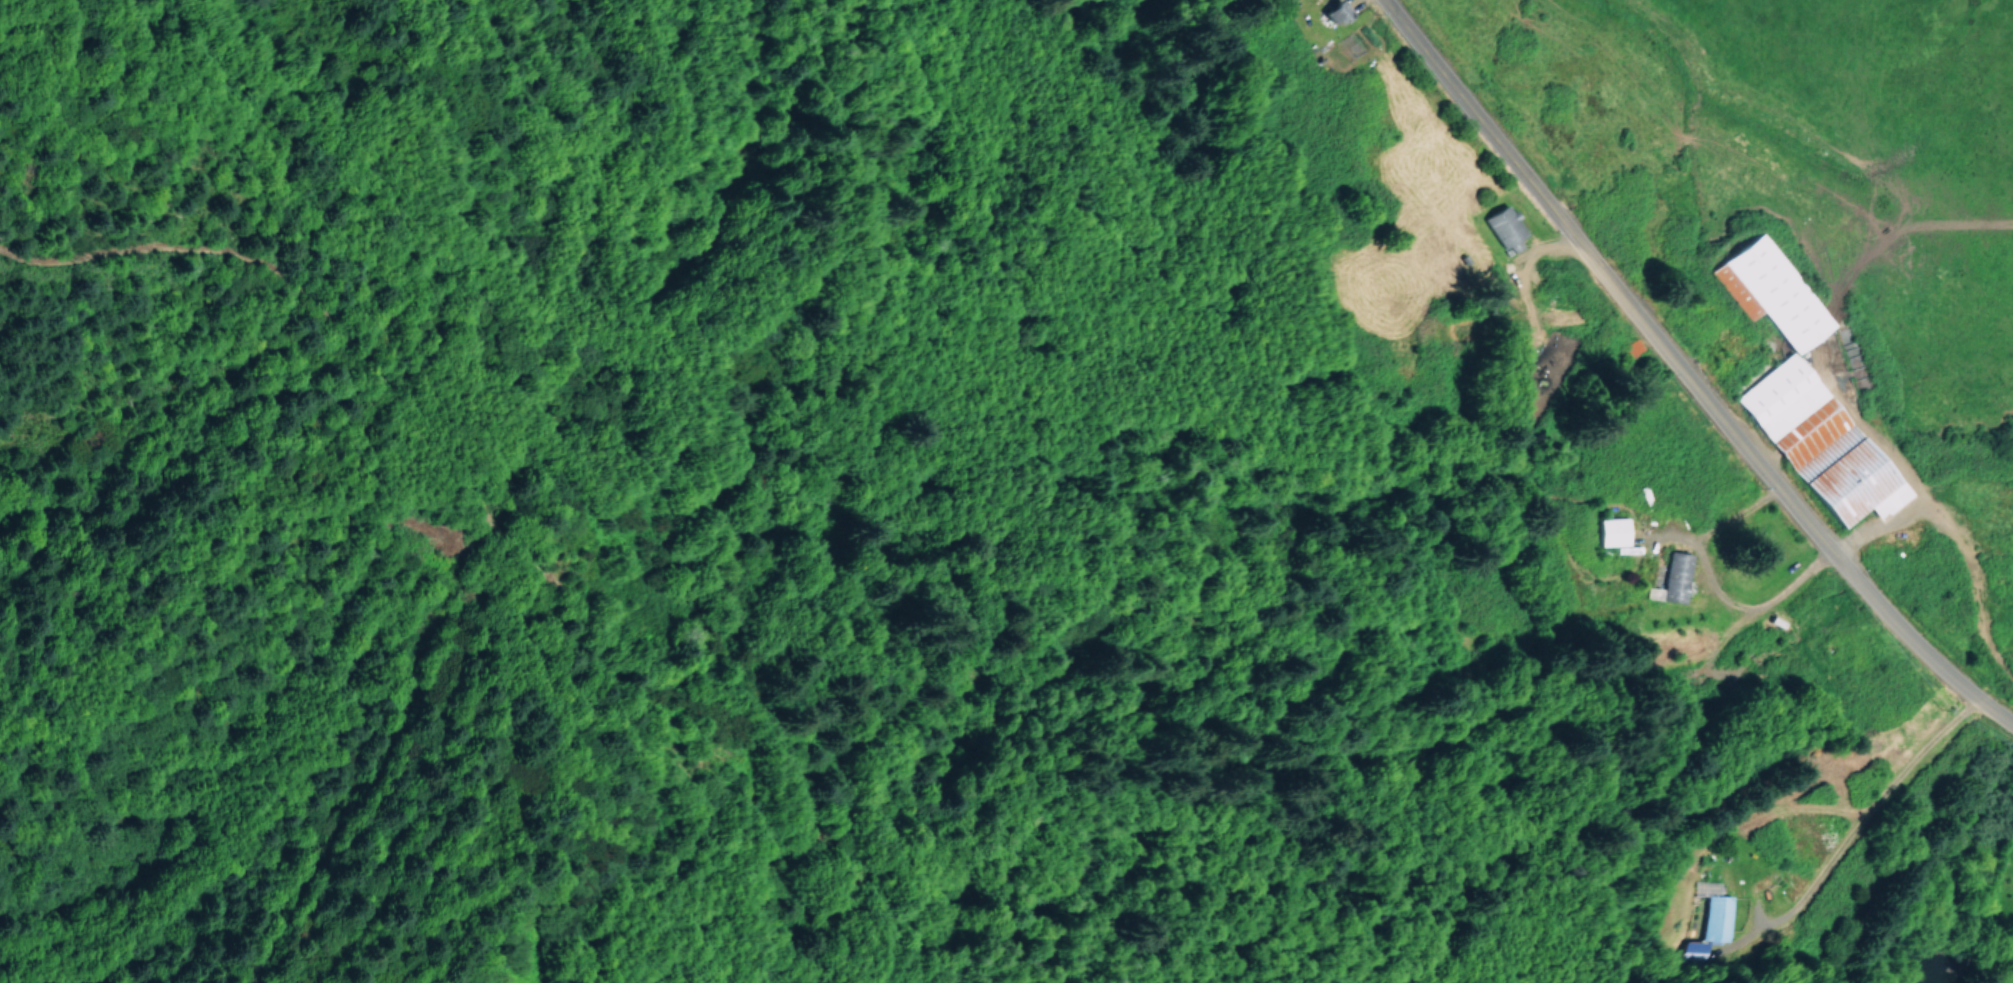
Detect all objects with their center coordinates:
building: (1337, 12)
crop: (1842, 212)
building: (1504, 225)
building: (1771, 292)
road: (1686, 371)
building: (1821, 441)
building: (1613, 531)
building: (1672, 578)
road: (1679, 660)
building: (1715, 911)
building: (1699, 949)

